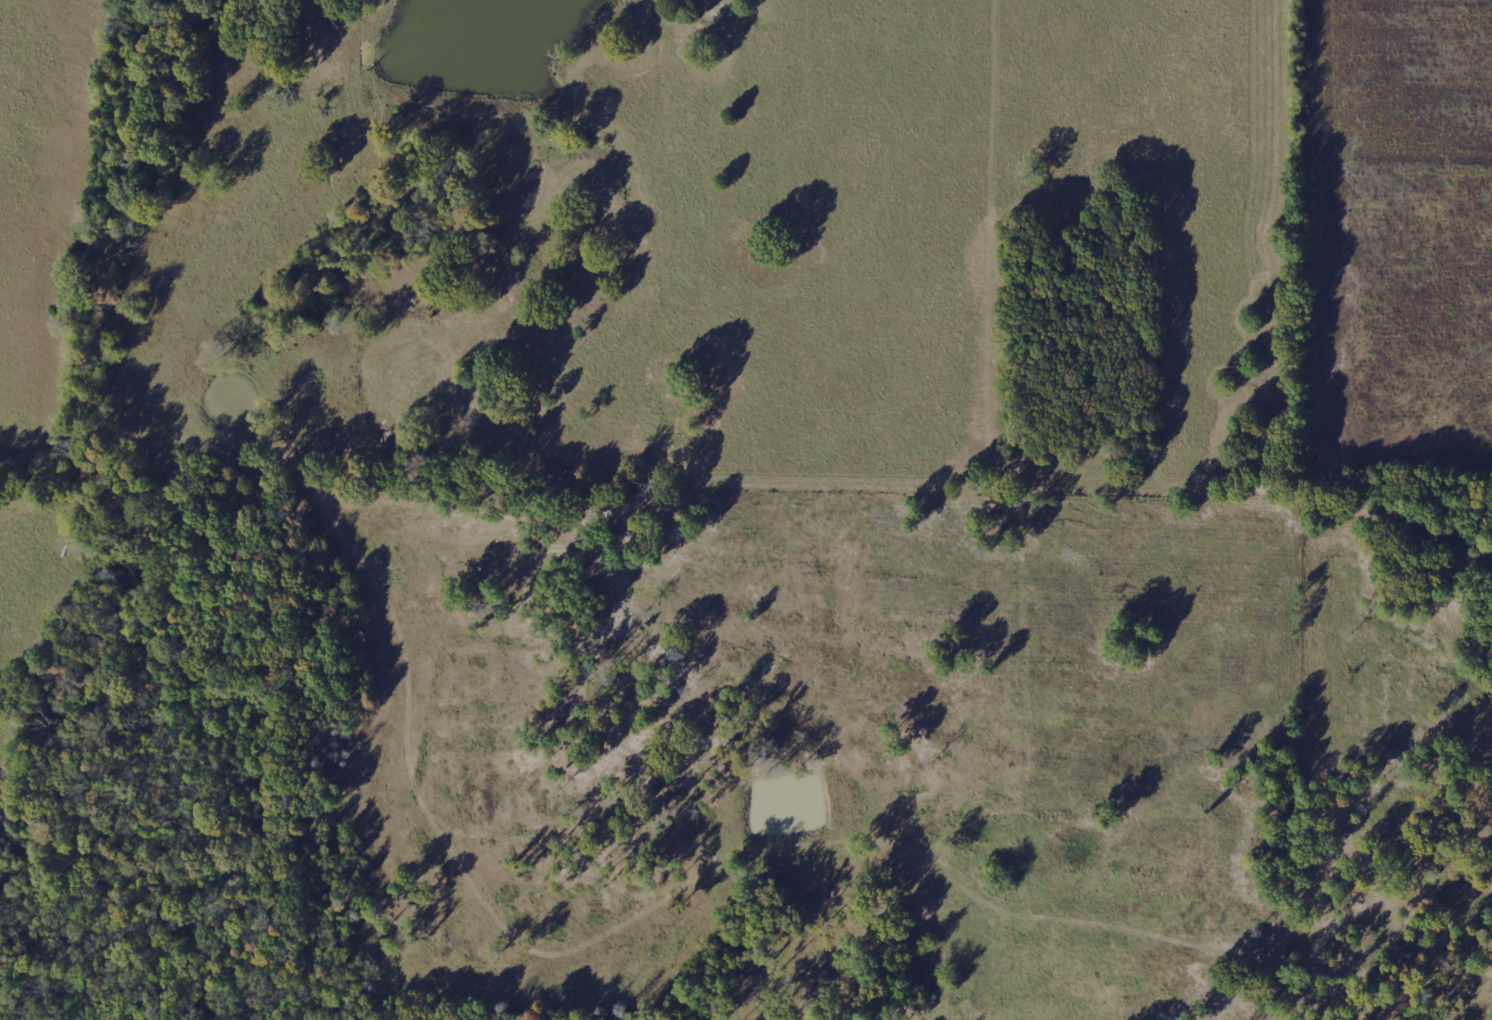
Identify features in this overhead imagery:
road: (792, 840)
road: (1252, 966)

